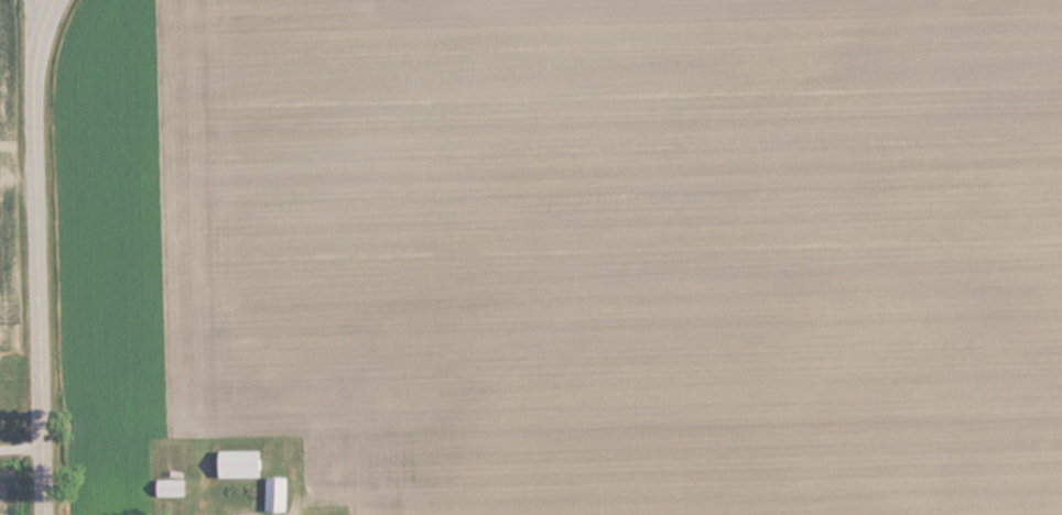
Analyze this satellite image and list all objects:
road: (59, 26)
road: (46, 256)
building: (243, 463)
building: (173, 487)
building: (279, 493)

